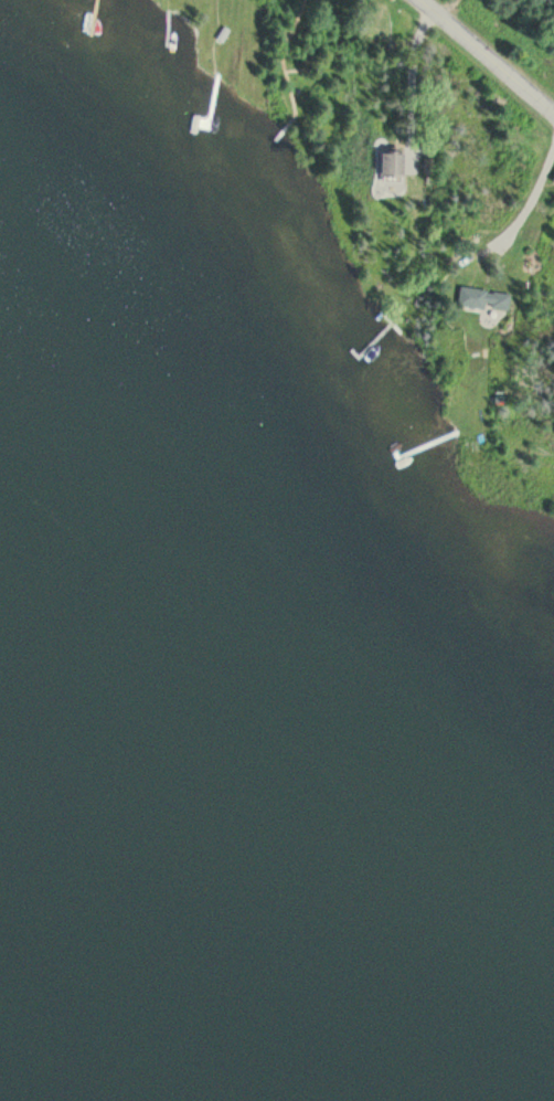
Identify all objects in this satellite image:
road: (456, 18)
road: (481, 59)
building: (394, 166)
building: (552, 180)
building: (484, 298)

